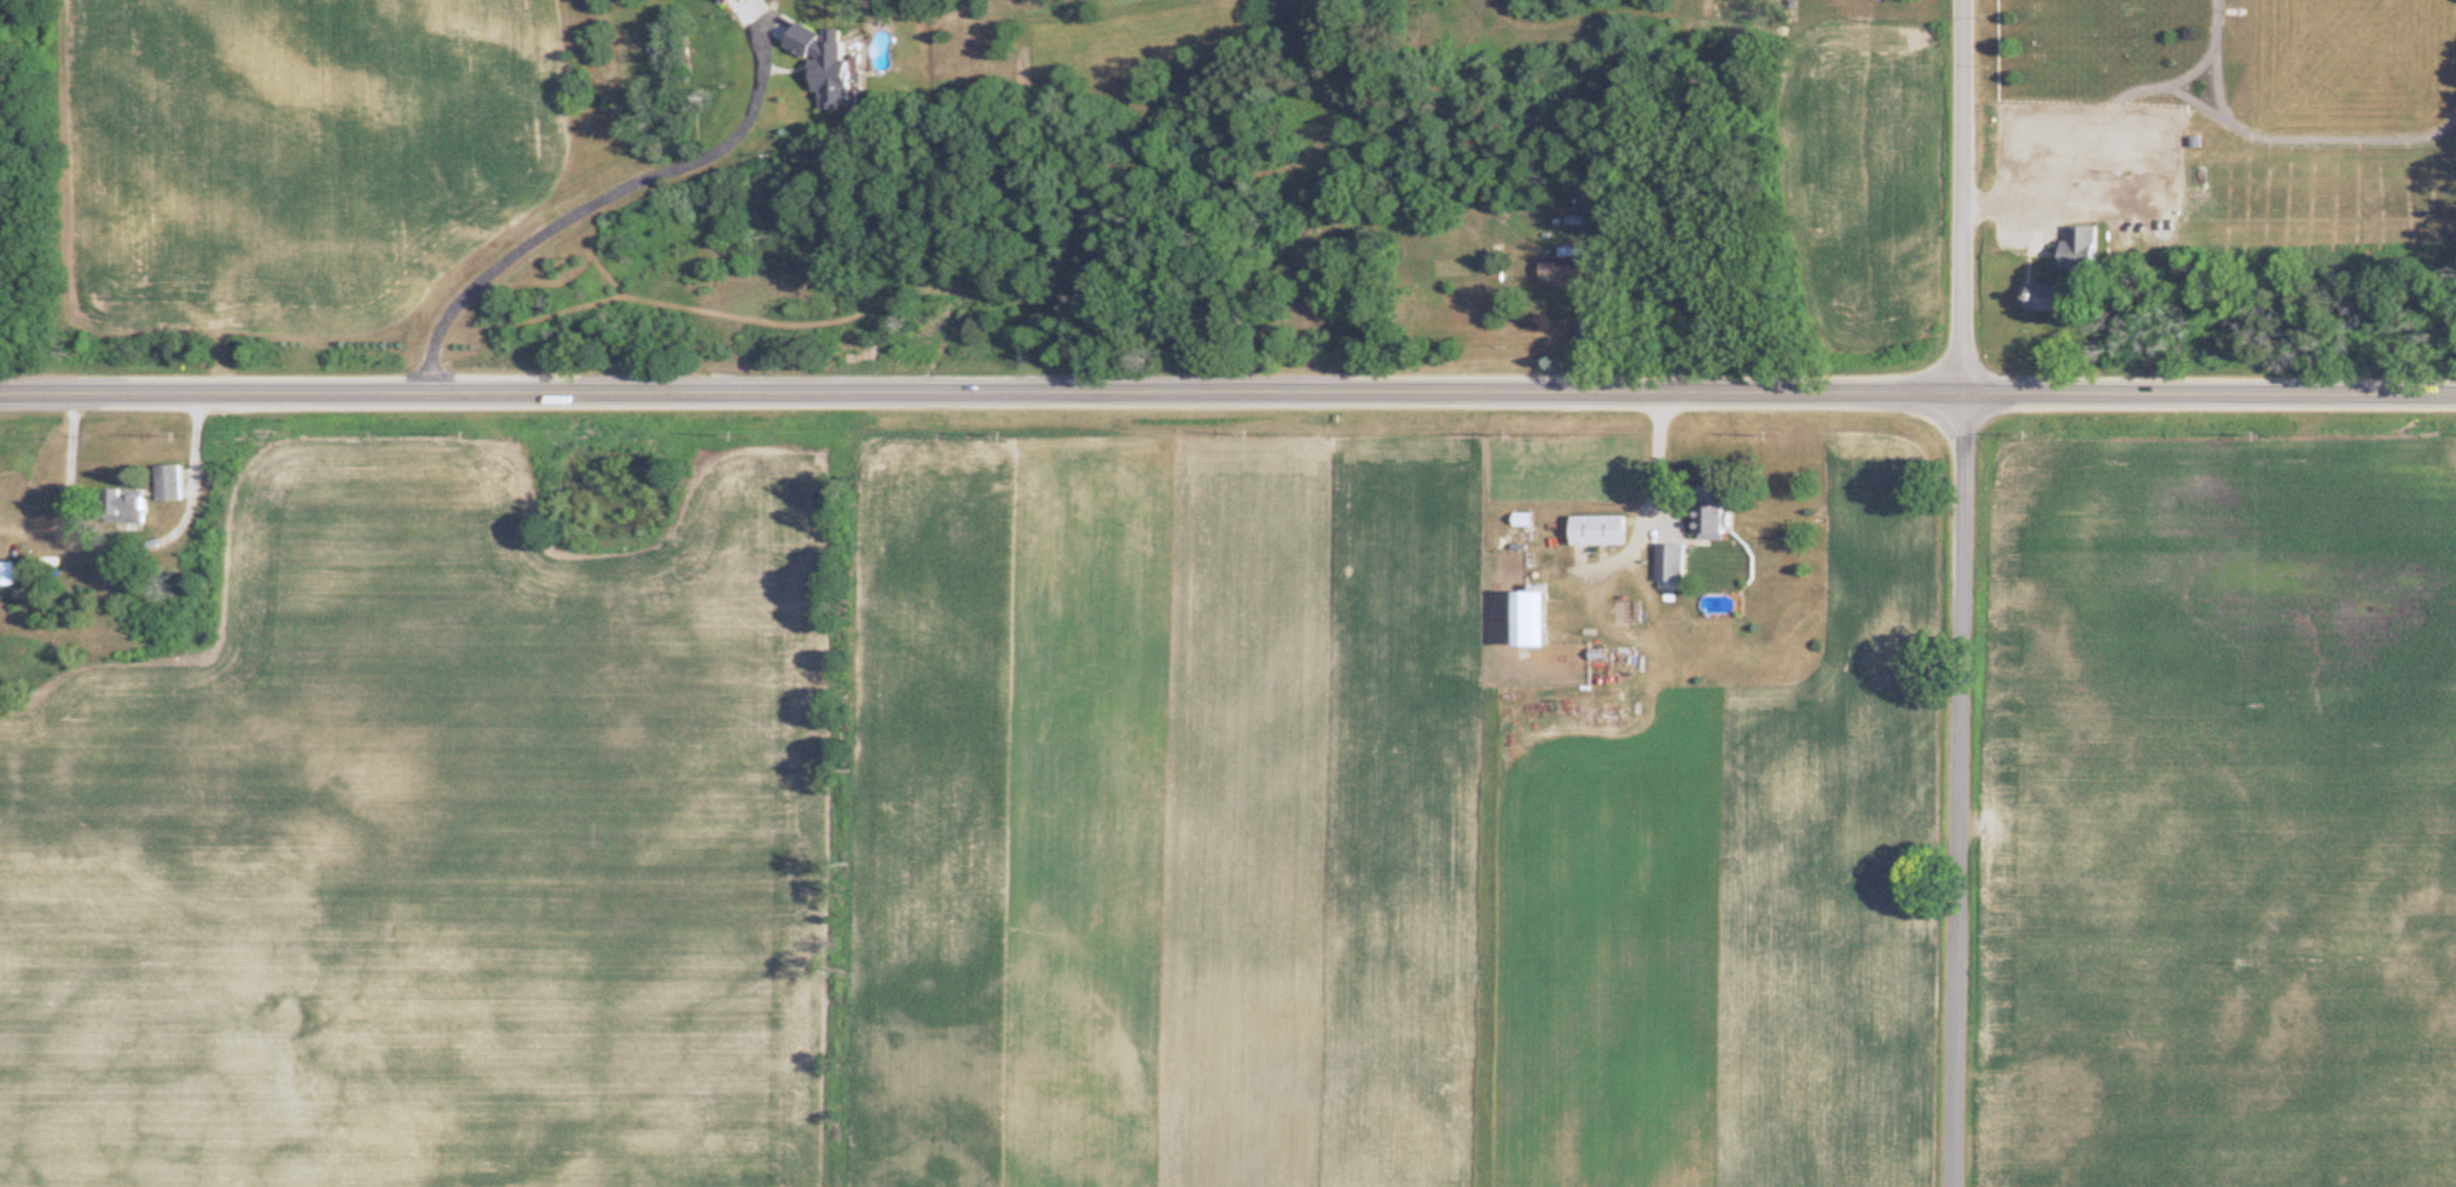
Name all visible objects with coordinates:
building: (721, 1)
road: (605, 194)
building: (1551, 269)
road: (1227, 390)
road: (1657, 456)
building: (1706, 520)
building: (1592, 531)
road: (132, 547)
building: (1666, 563)
road: (1959, 593)
building: (1627, 612)
building: (1521, 618)

